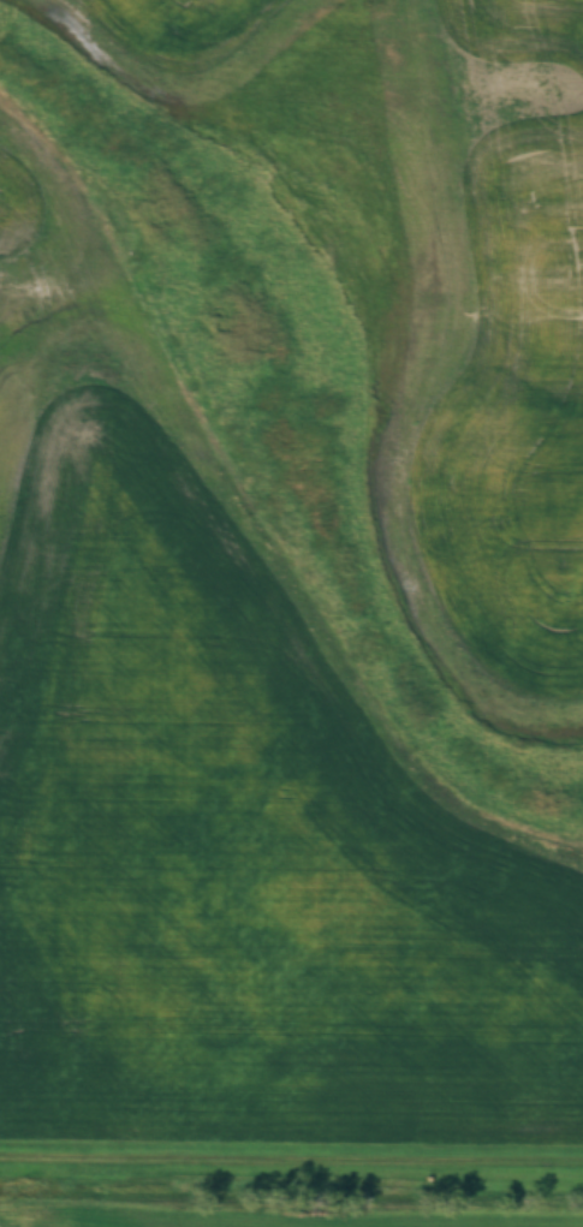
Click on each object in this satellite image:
road: (291, 1178)

